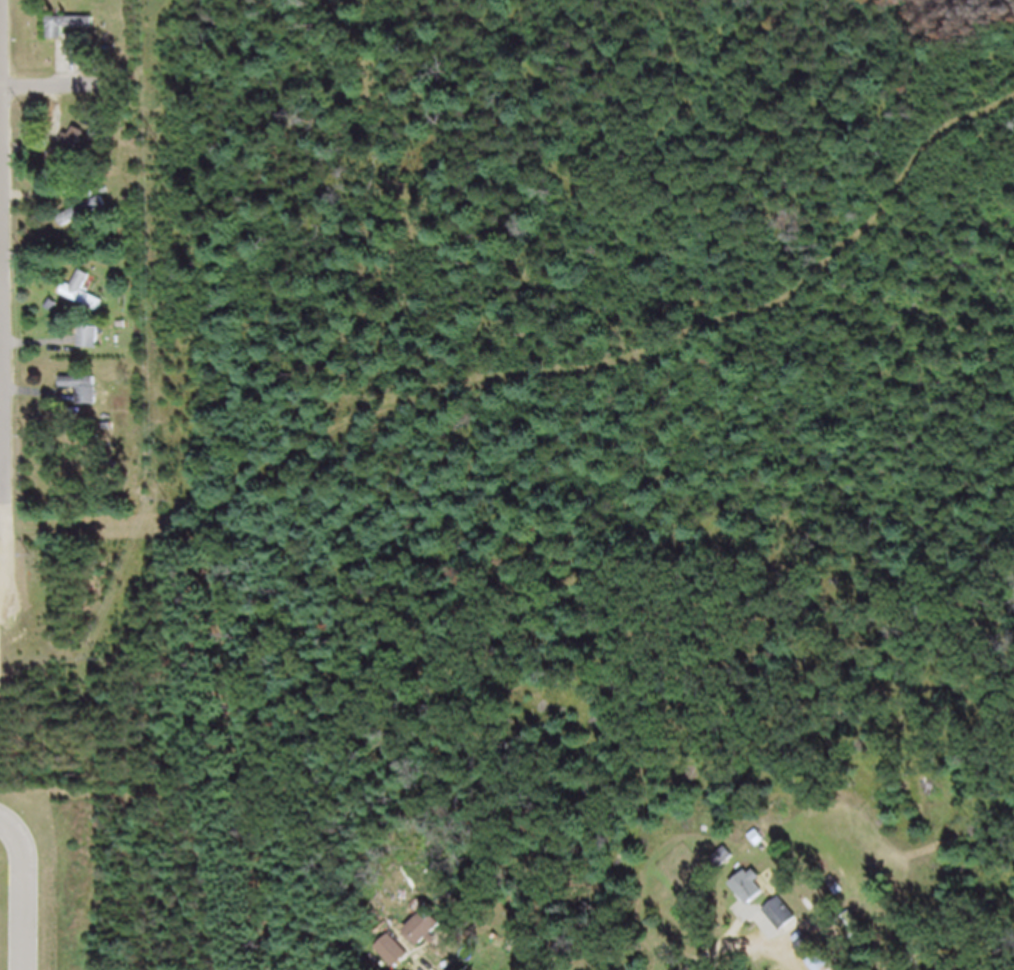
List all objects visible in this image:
building: (75, 38)
road: (51, 93)
building: (107, 141)
building: (73, 155)
building: (87, 220)
road: (8, 254)
building: (87, 301)
building: (93, 345)
building: (86, 397)
power substation: (1, 664)
building: (728, 866)
building: (755, 895)
road: (27, 896)
building: (786, 922)
building: (429, 937)
road: (495, 952)
road: (701, 956)
building: (396, 958)
building: (816, 959)

